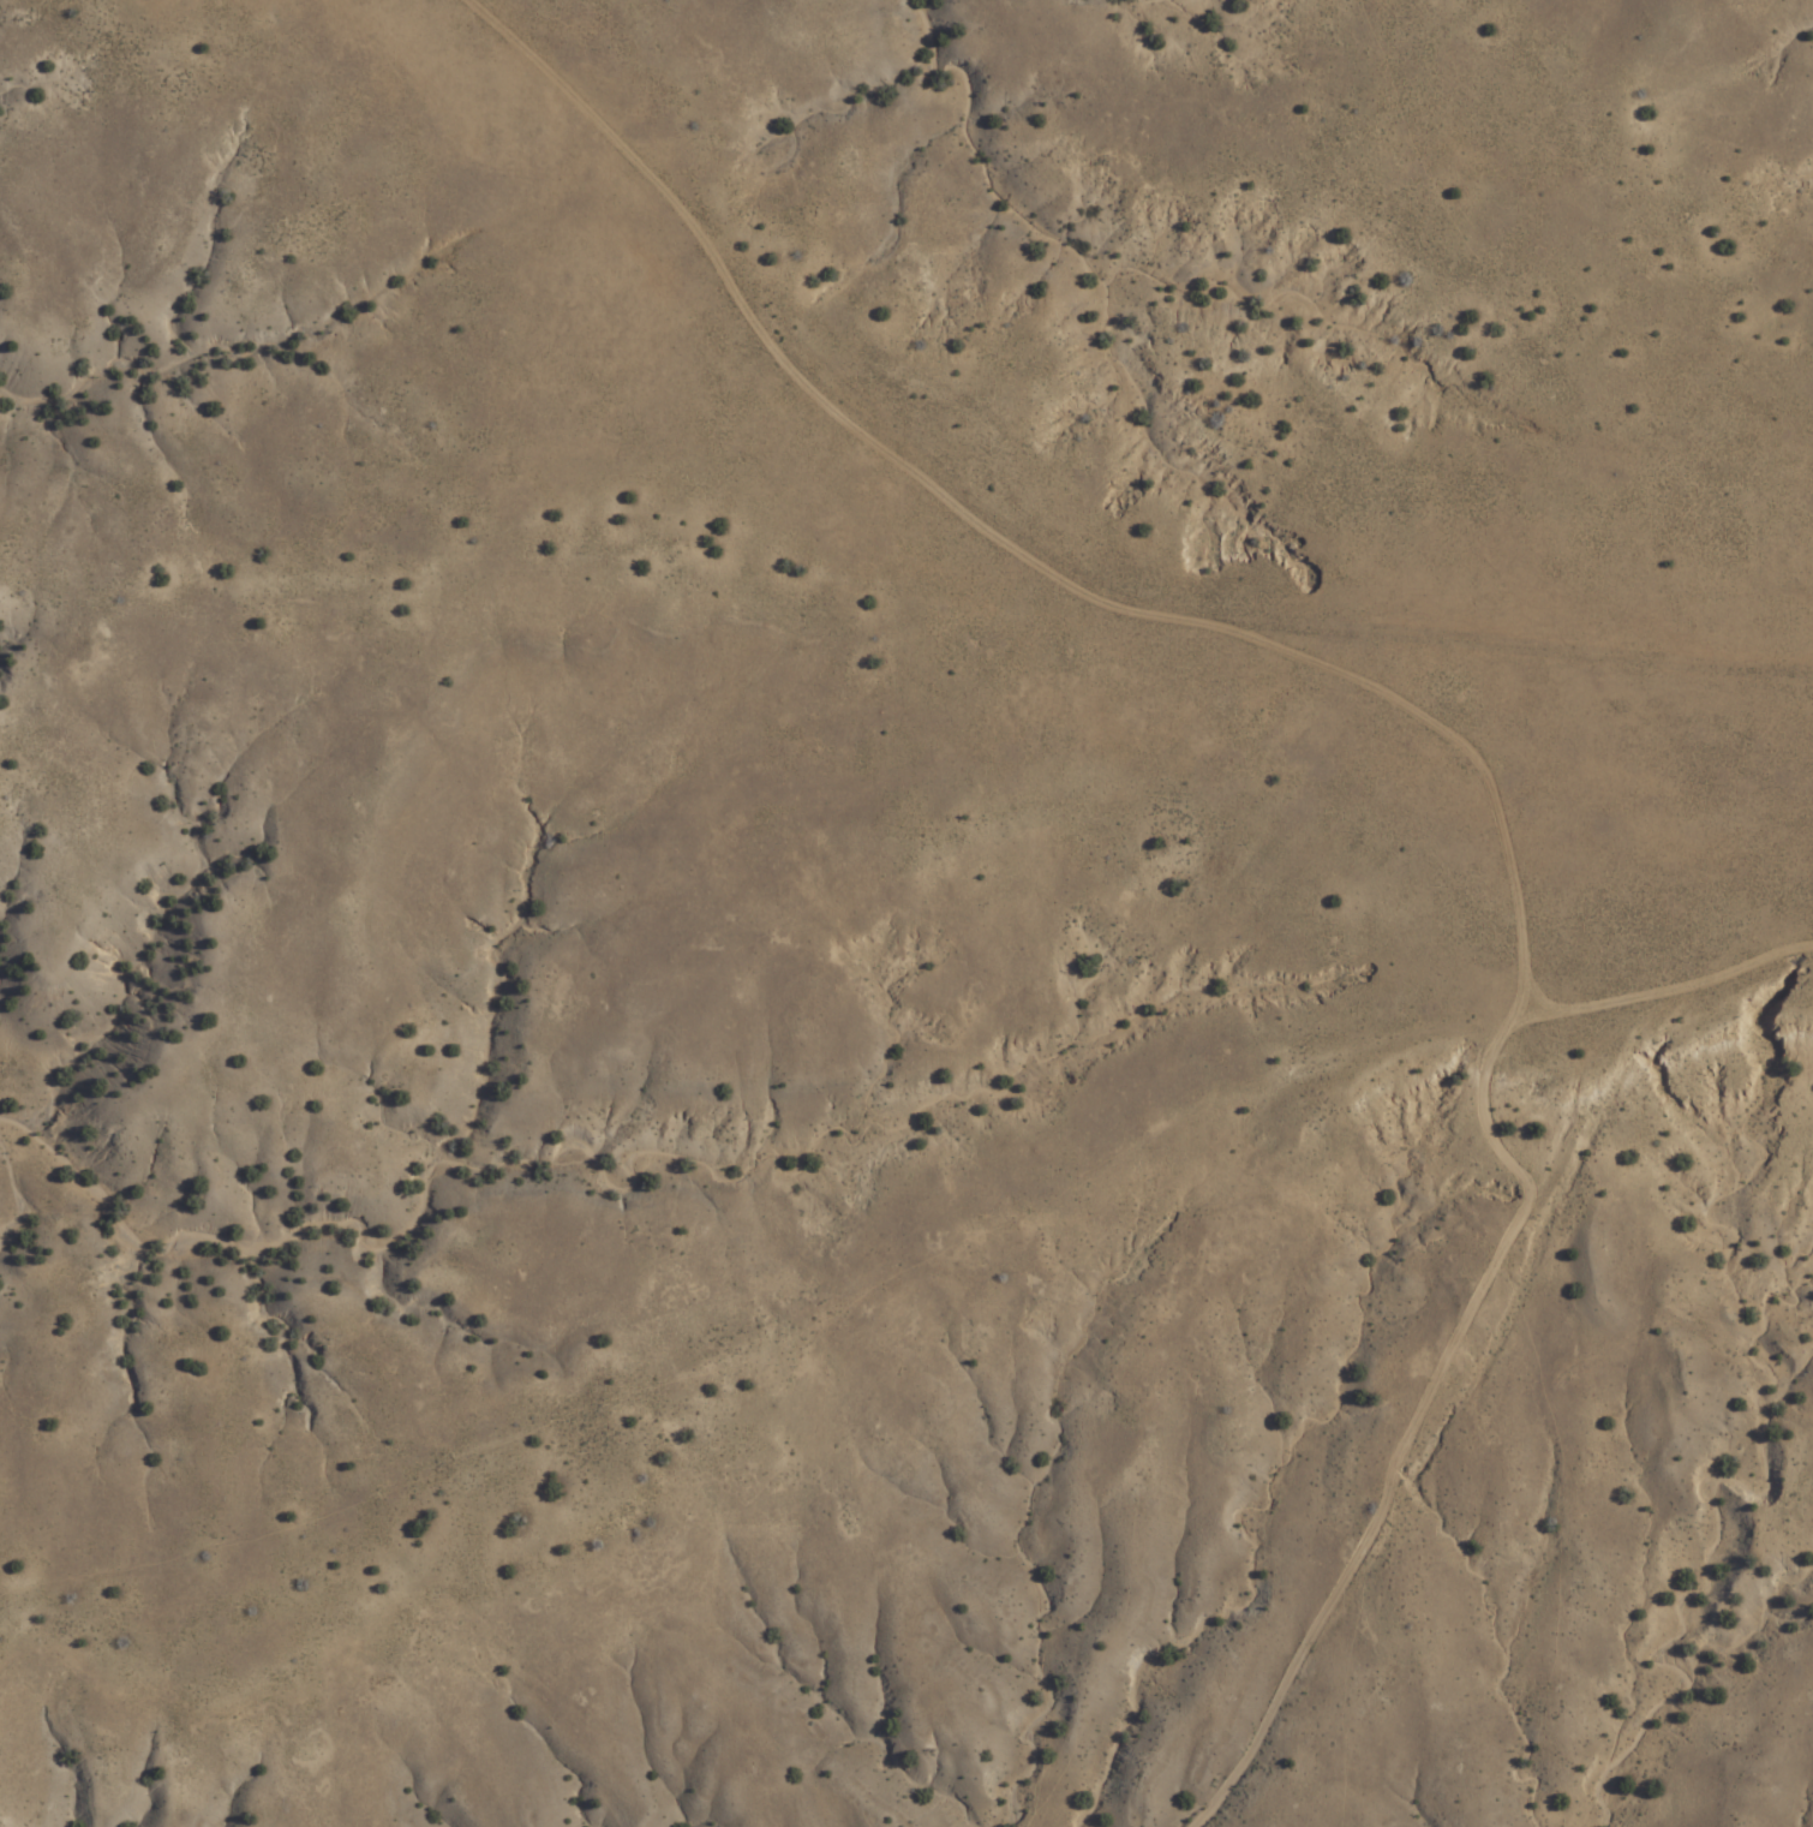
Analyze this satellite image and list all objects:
road: (1476, 1409)

